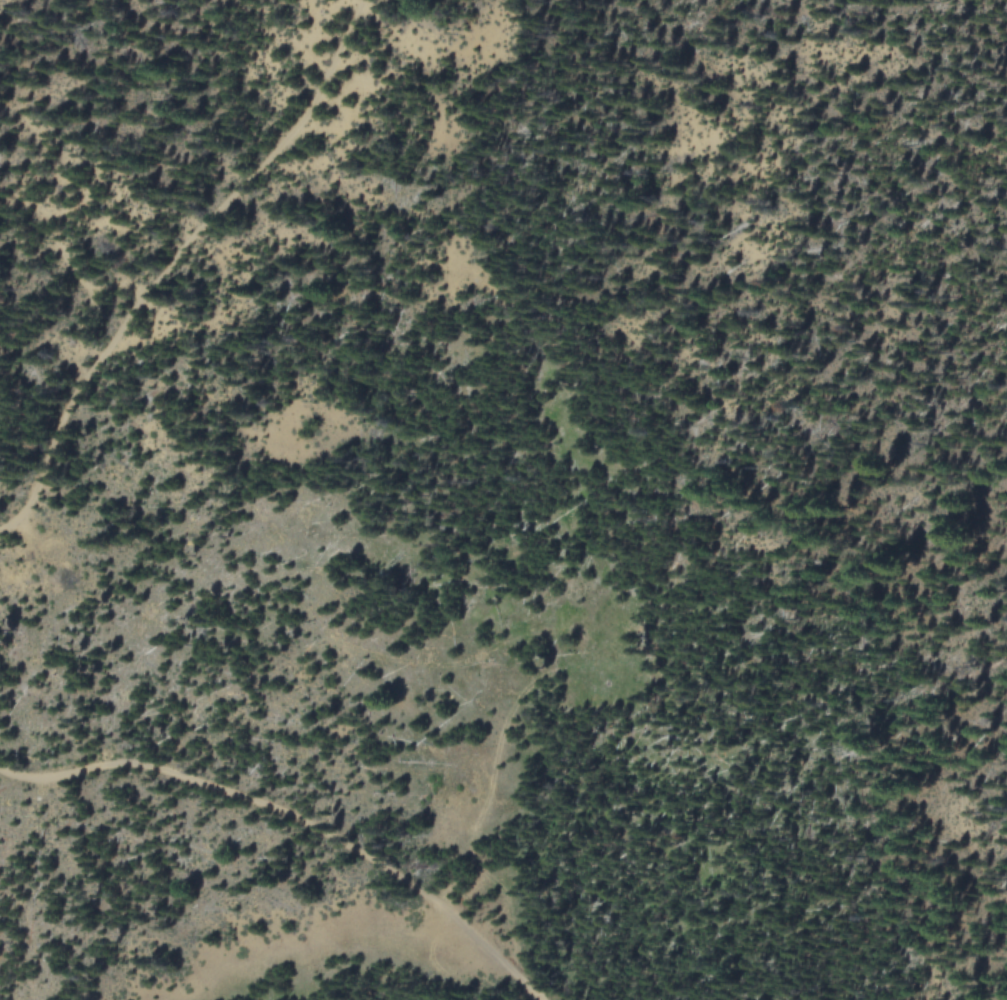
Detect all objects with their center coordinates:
road: (176, 261)
road: (294, 818)

